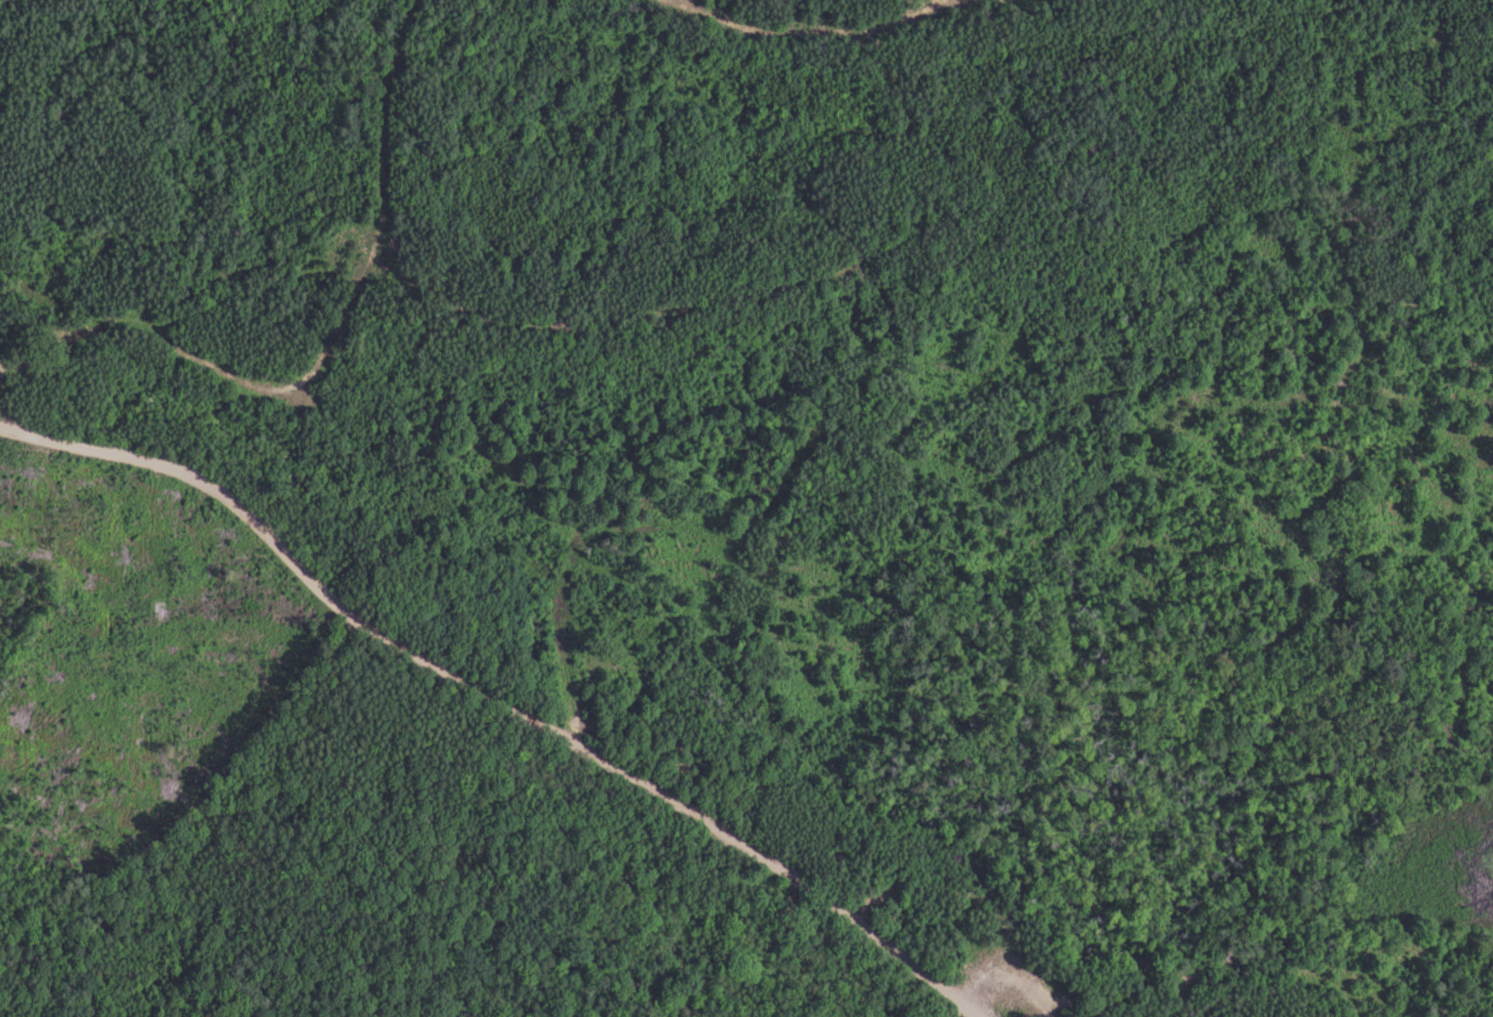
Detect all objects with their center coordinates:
road: (813, 28)
road: (325, 351)
road: (496, 697)

